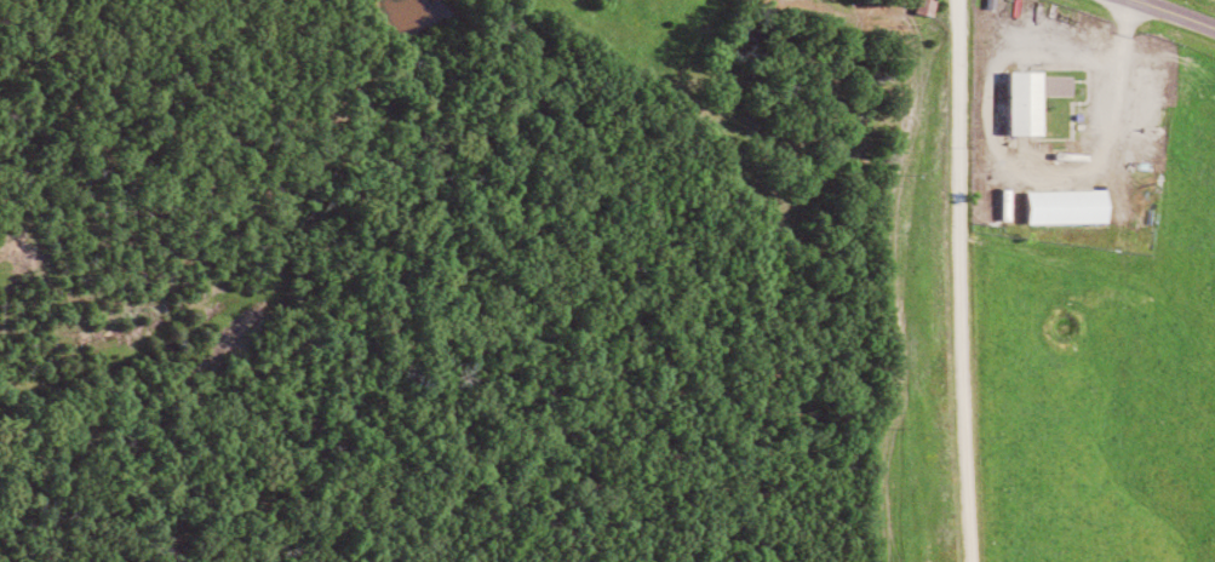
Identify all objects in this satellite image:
road: (1164, 18)
road: (1125, 41)
building: (1043, 99)
road: (1083, 185)
building: (1078, 206)
road: (958, 281)

